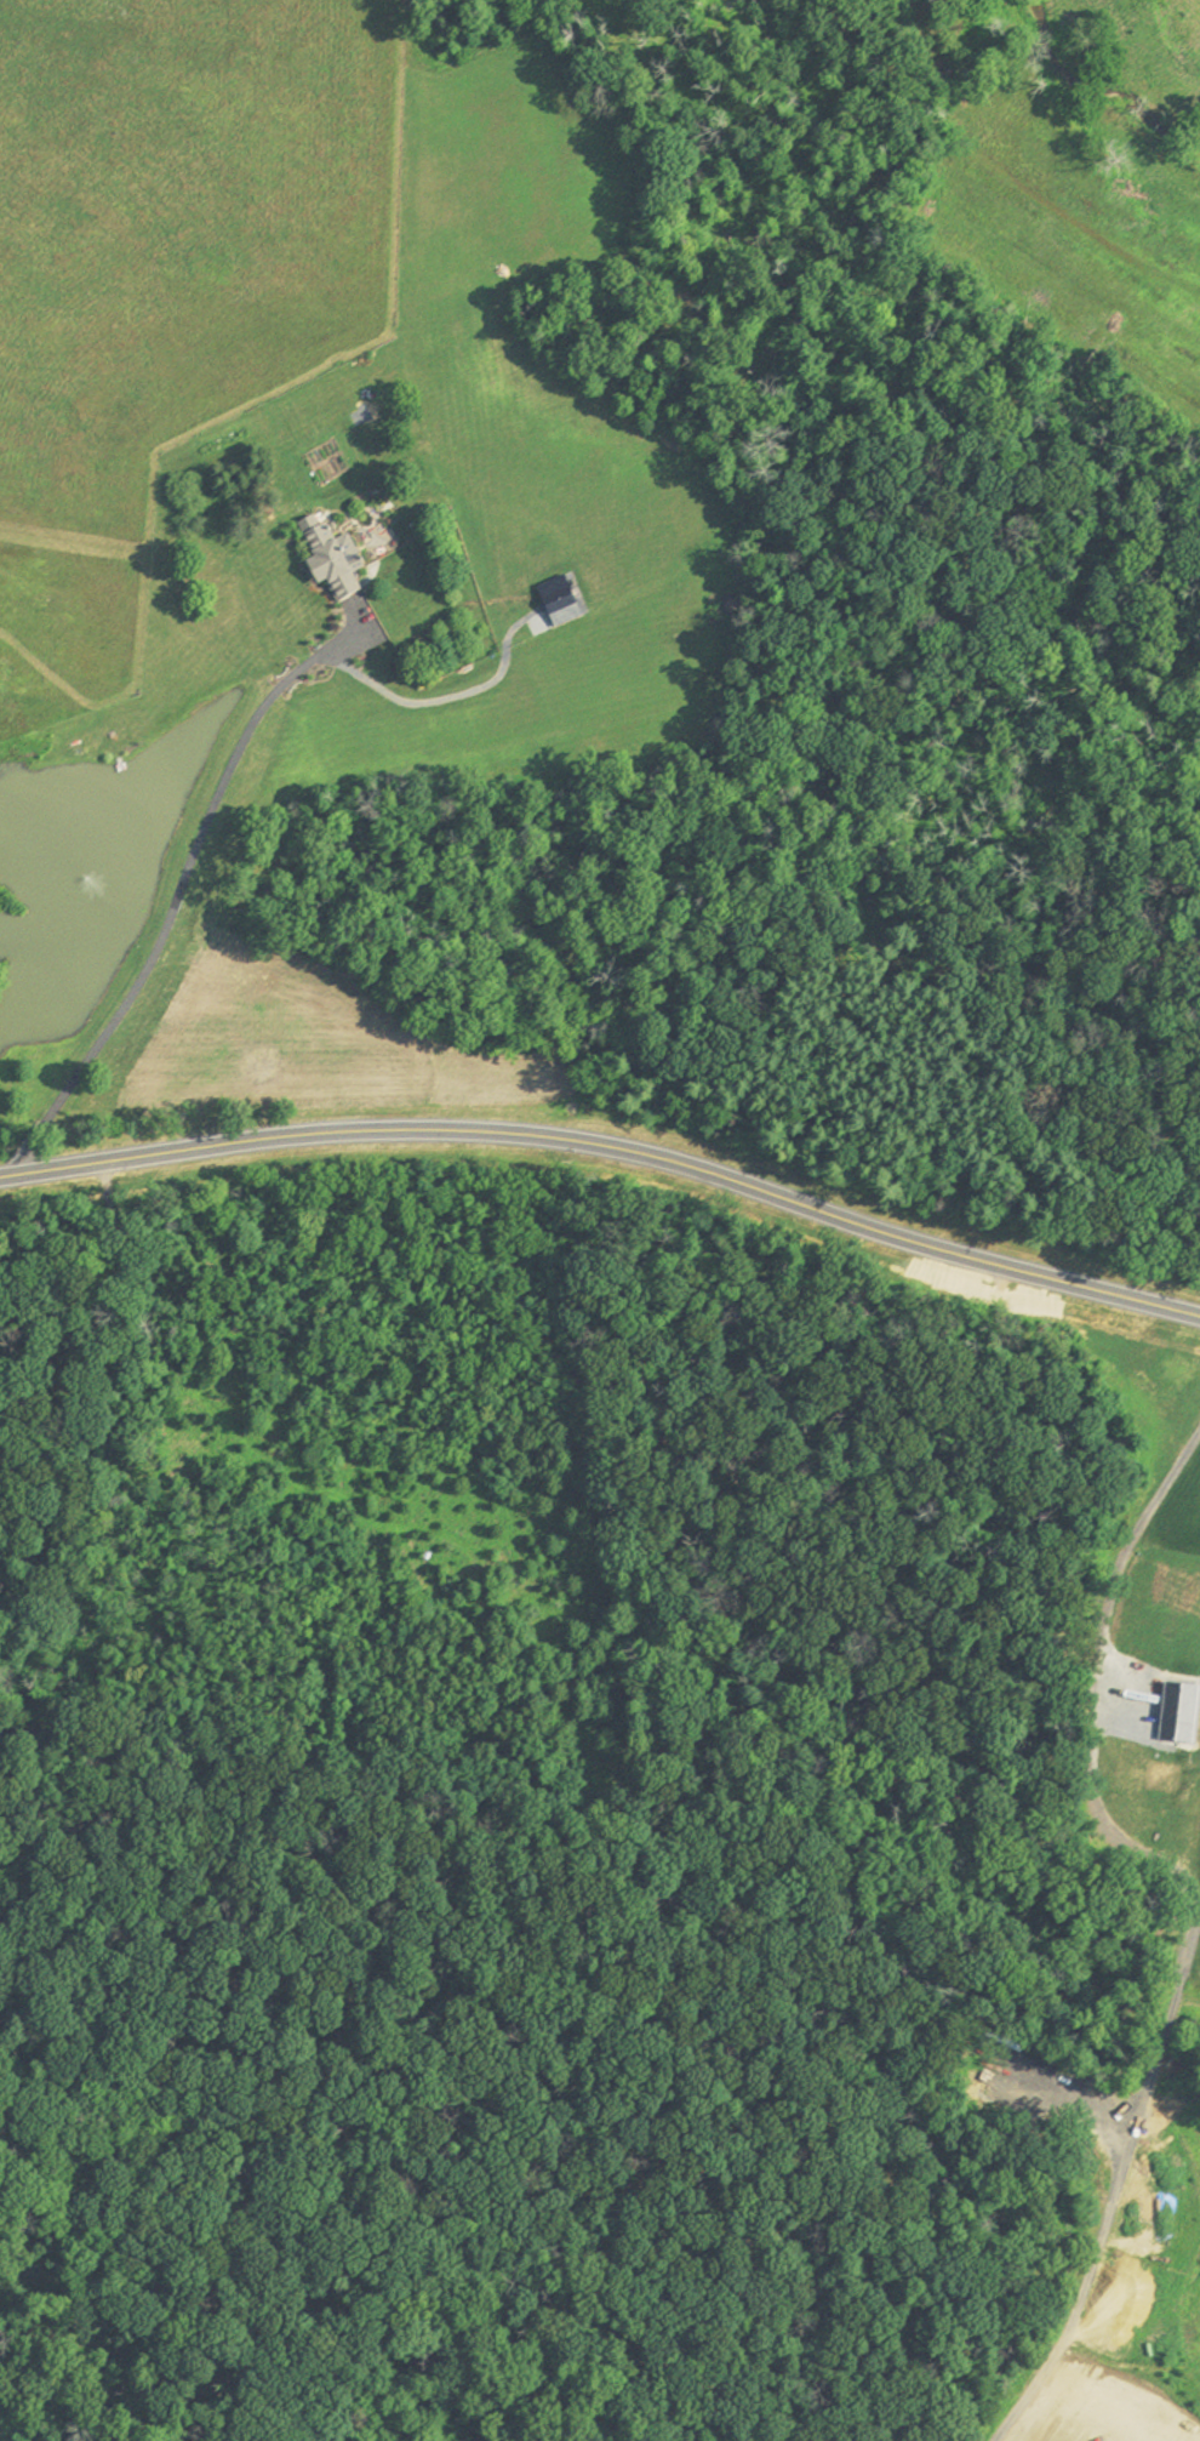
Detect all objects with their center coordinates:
building: (343, 560)
road: (182, 884)
road: (611, 1135)
crop: (1158, 1625)
road: (1118, 2264)
crop: (6, 2435)

